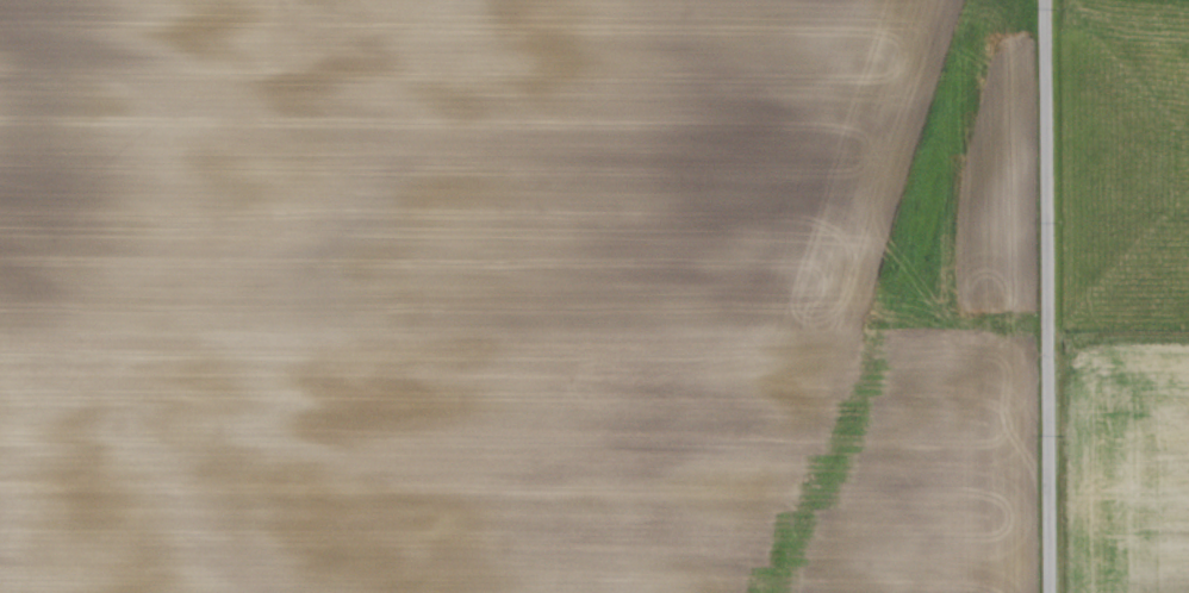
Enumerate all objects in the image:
road: (1046, 296)

